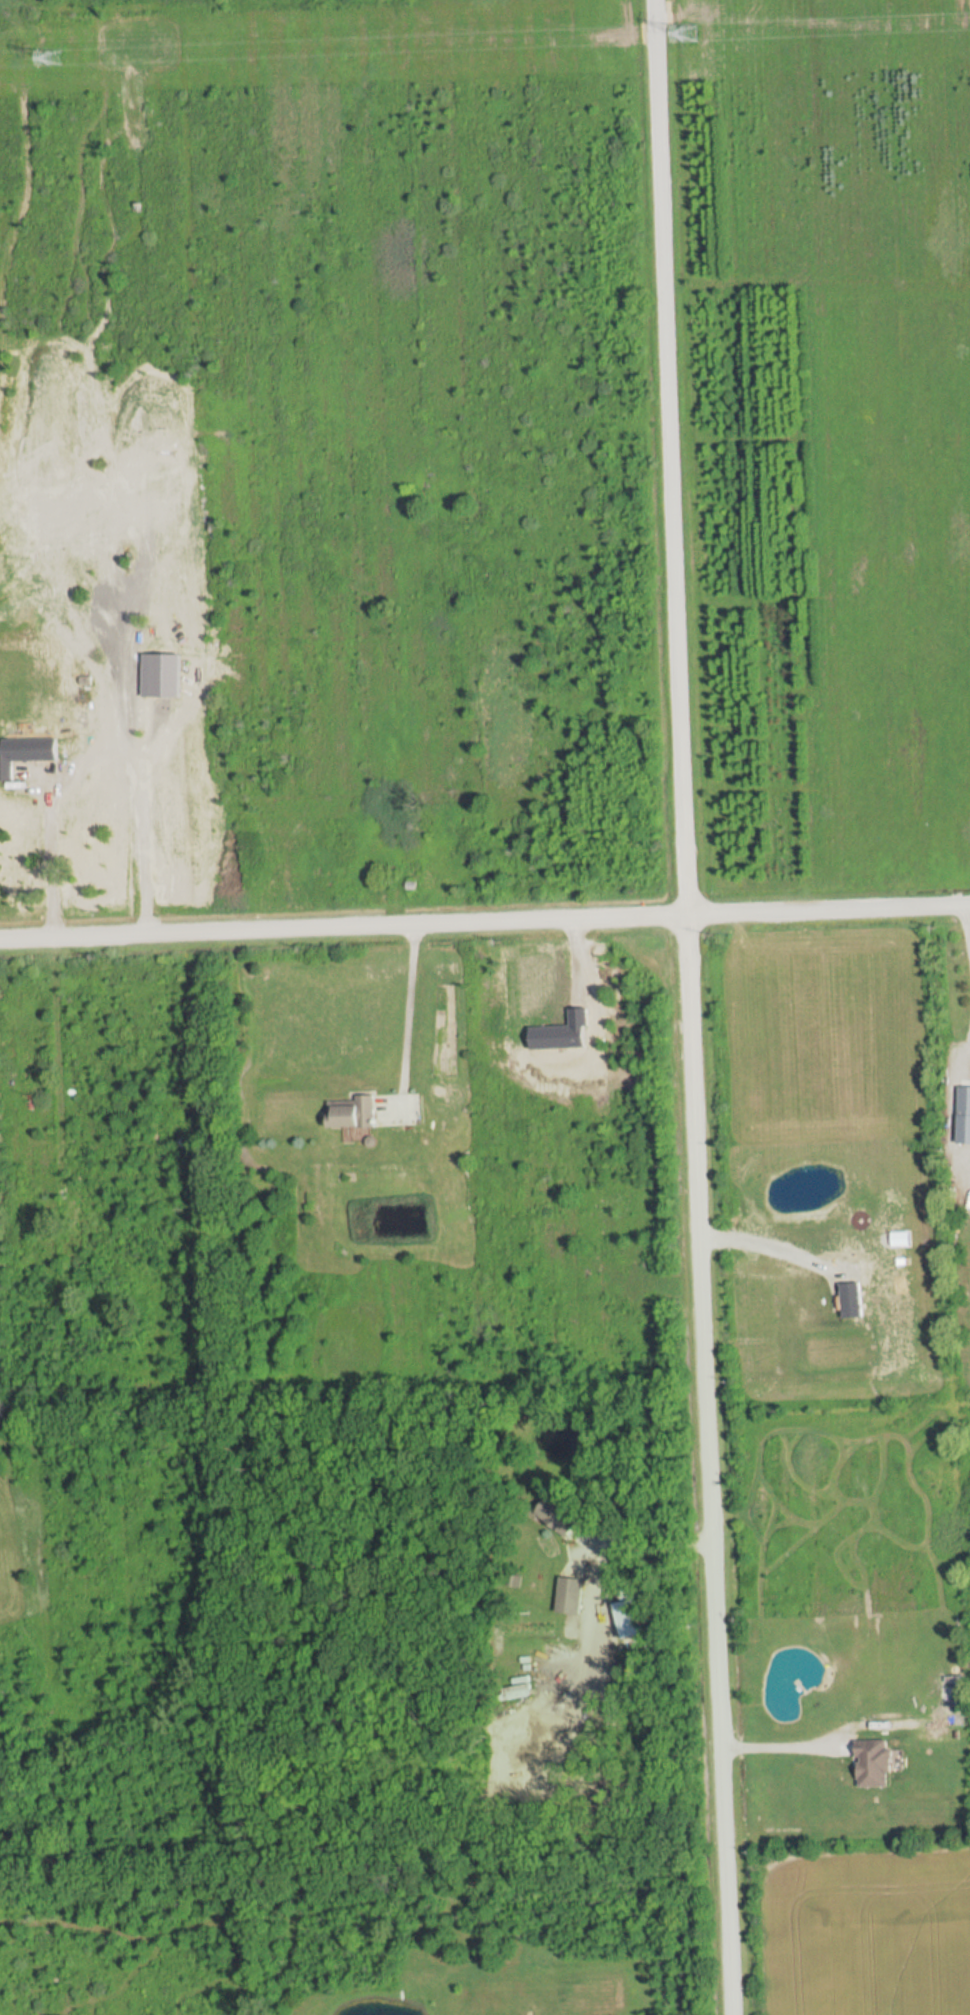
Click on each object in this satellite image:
power tower: (691, 34)
power tower: (52, 57)
road: (143, 849)
road: (485, 923)
road: (966, 925)
road: (663, 1008)
road: (405, 1016)
building: (963, 1100)
building: (353, 1111)
road: (738, 1238)
building: (562, 1515)
road: (593, 1548)
building: (569, 1594)
road: (757, 1742)
building: (873, 1763)

